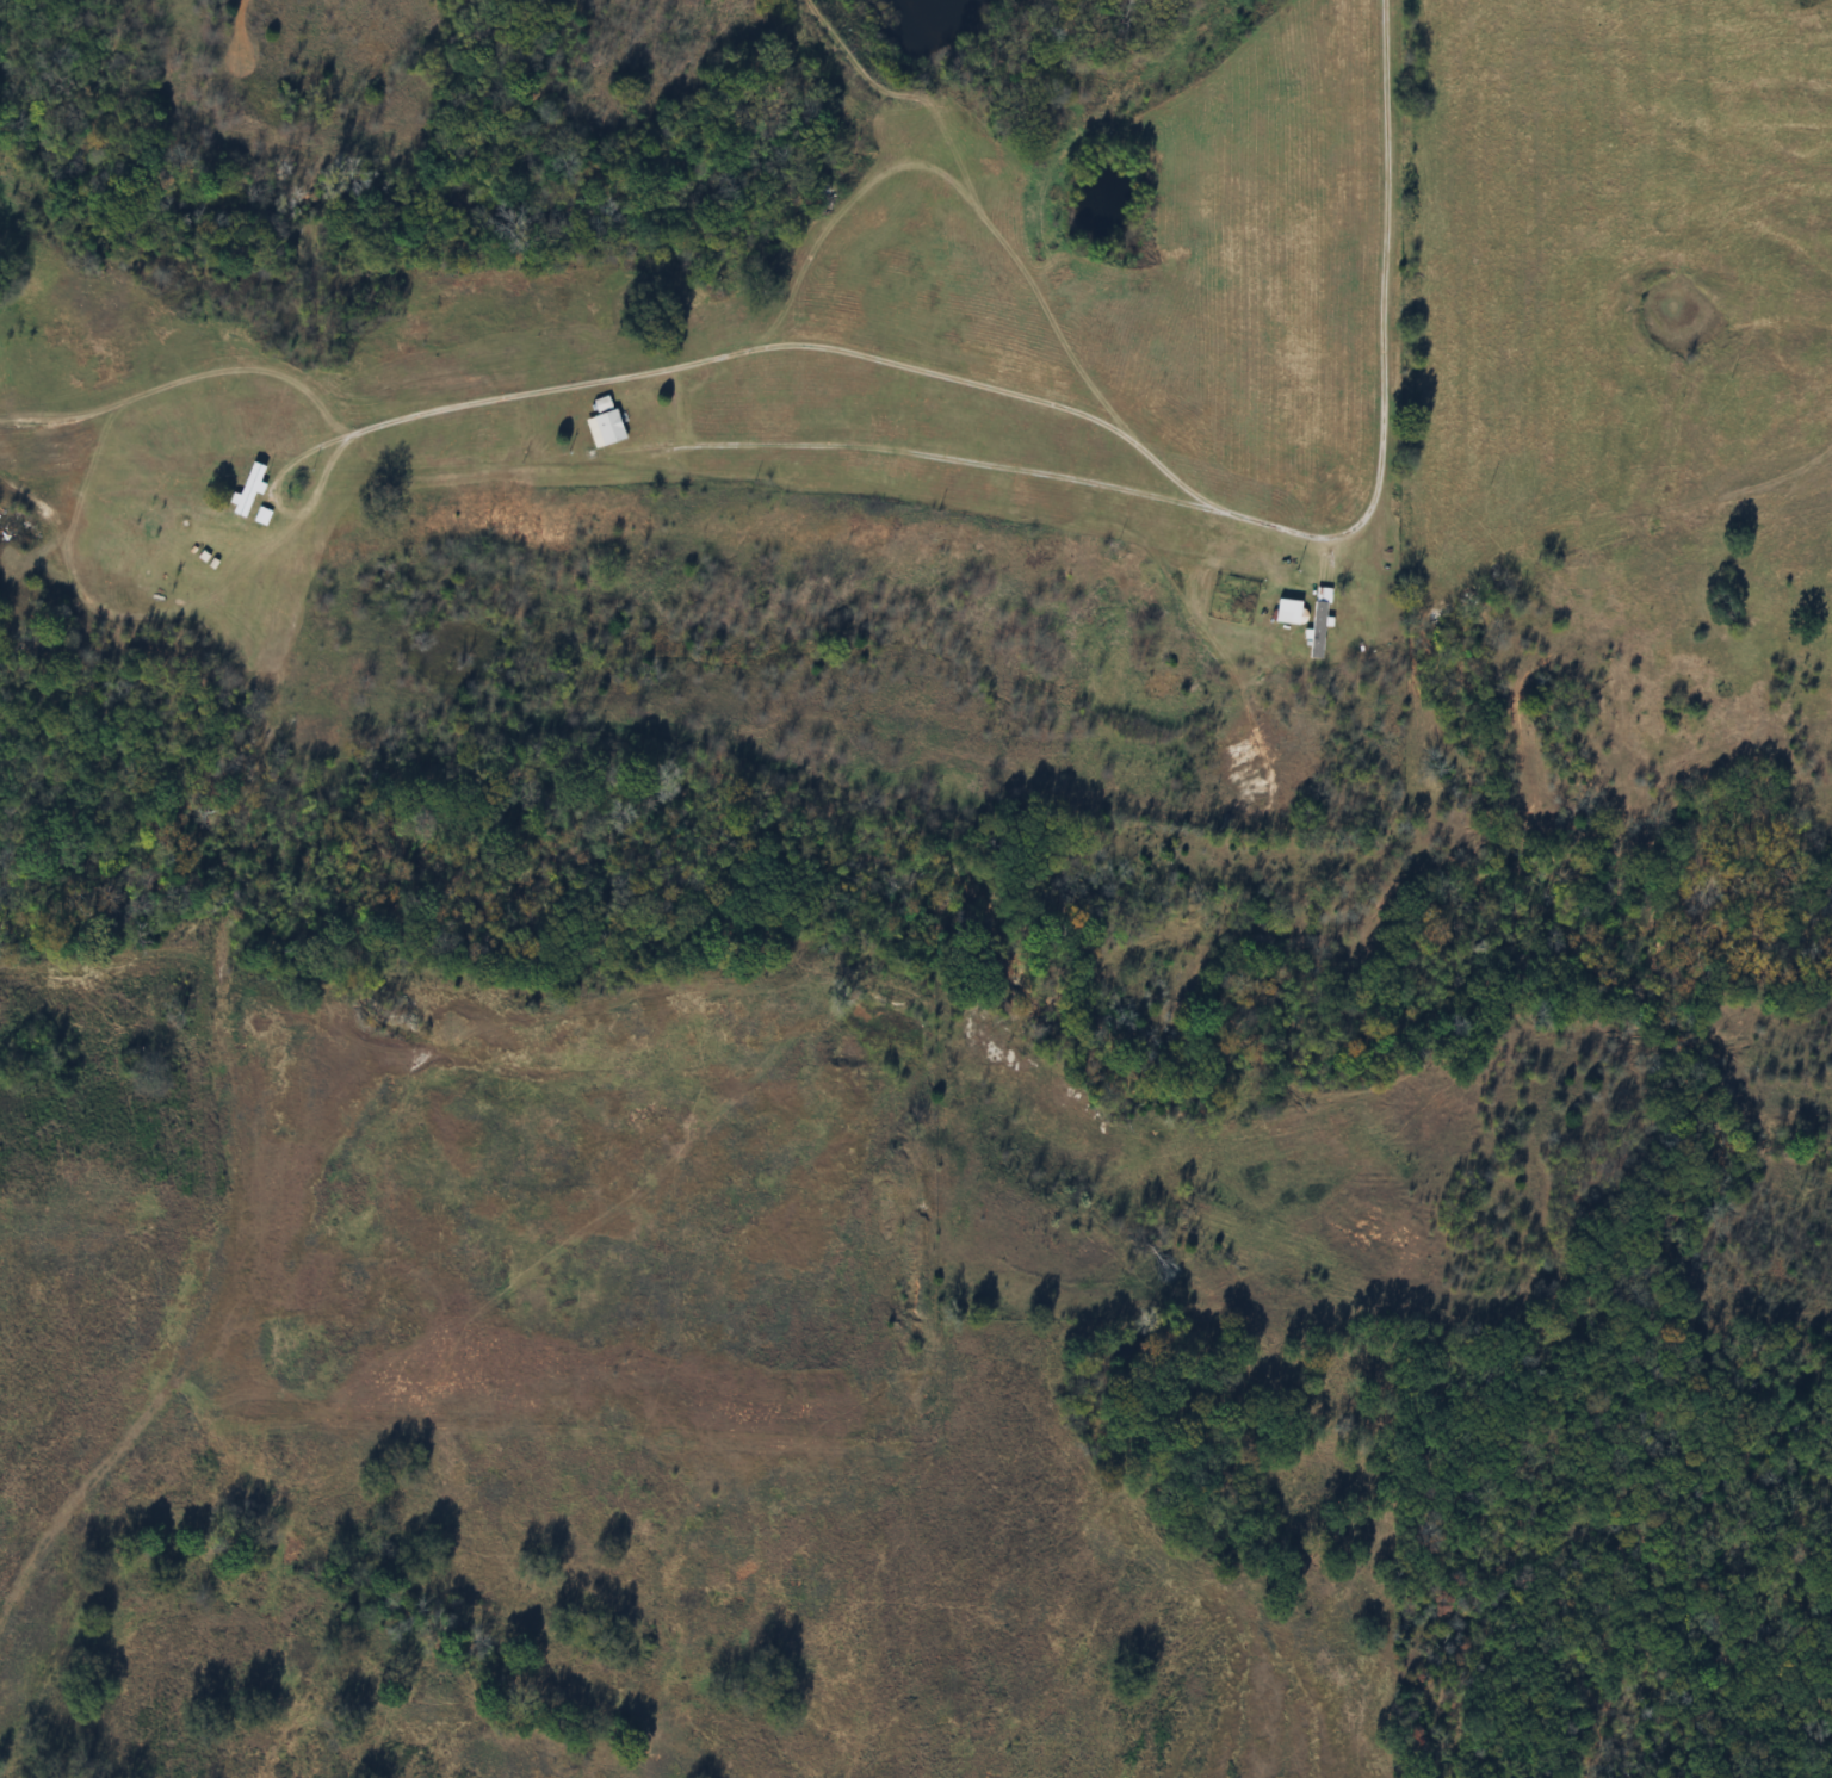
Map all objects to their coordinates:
road: (1384, 357)
building: (600, 426)
road: (683, 447)
building: (252, 496)
building: (1283, 614)
building: (1312, 632)
road: (192, 1361)

